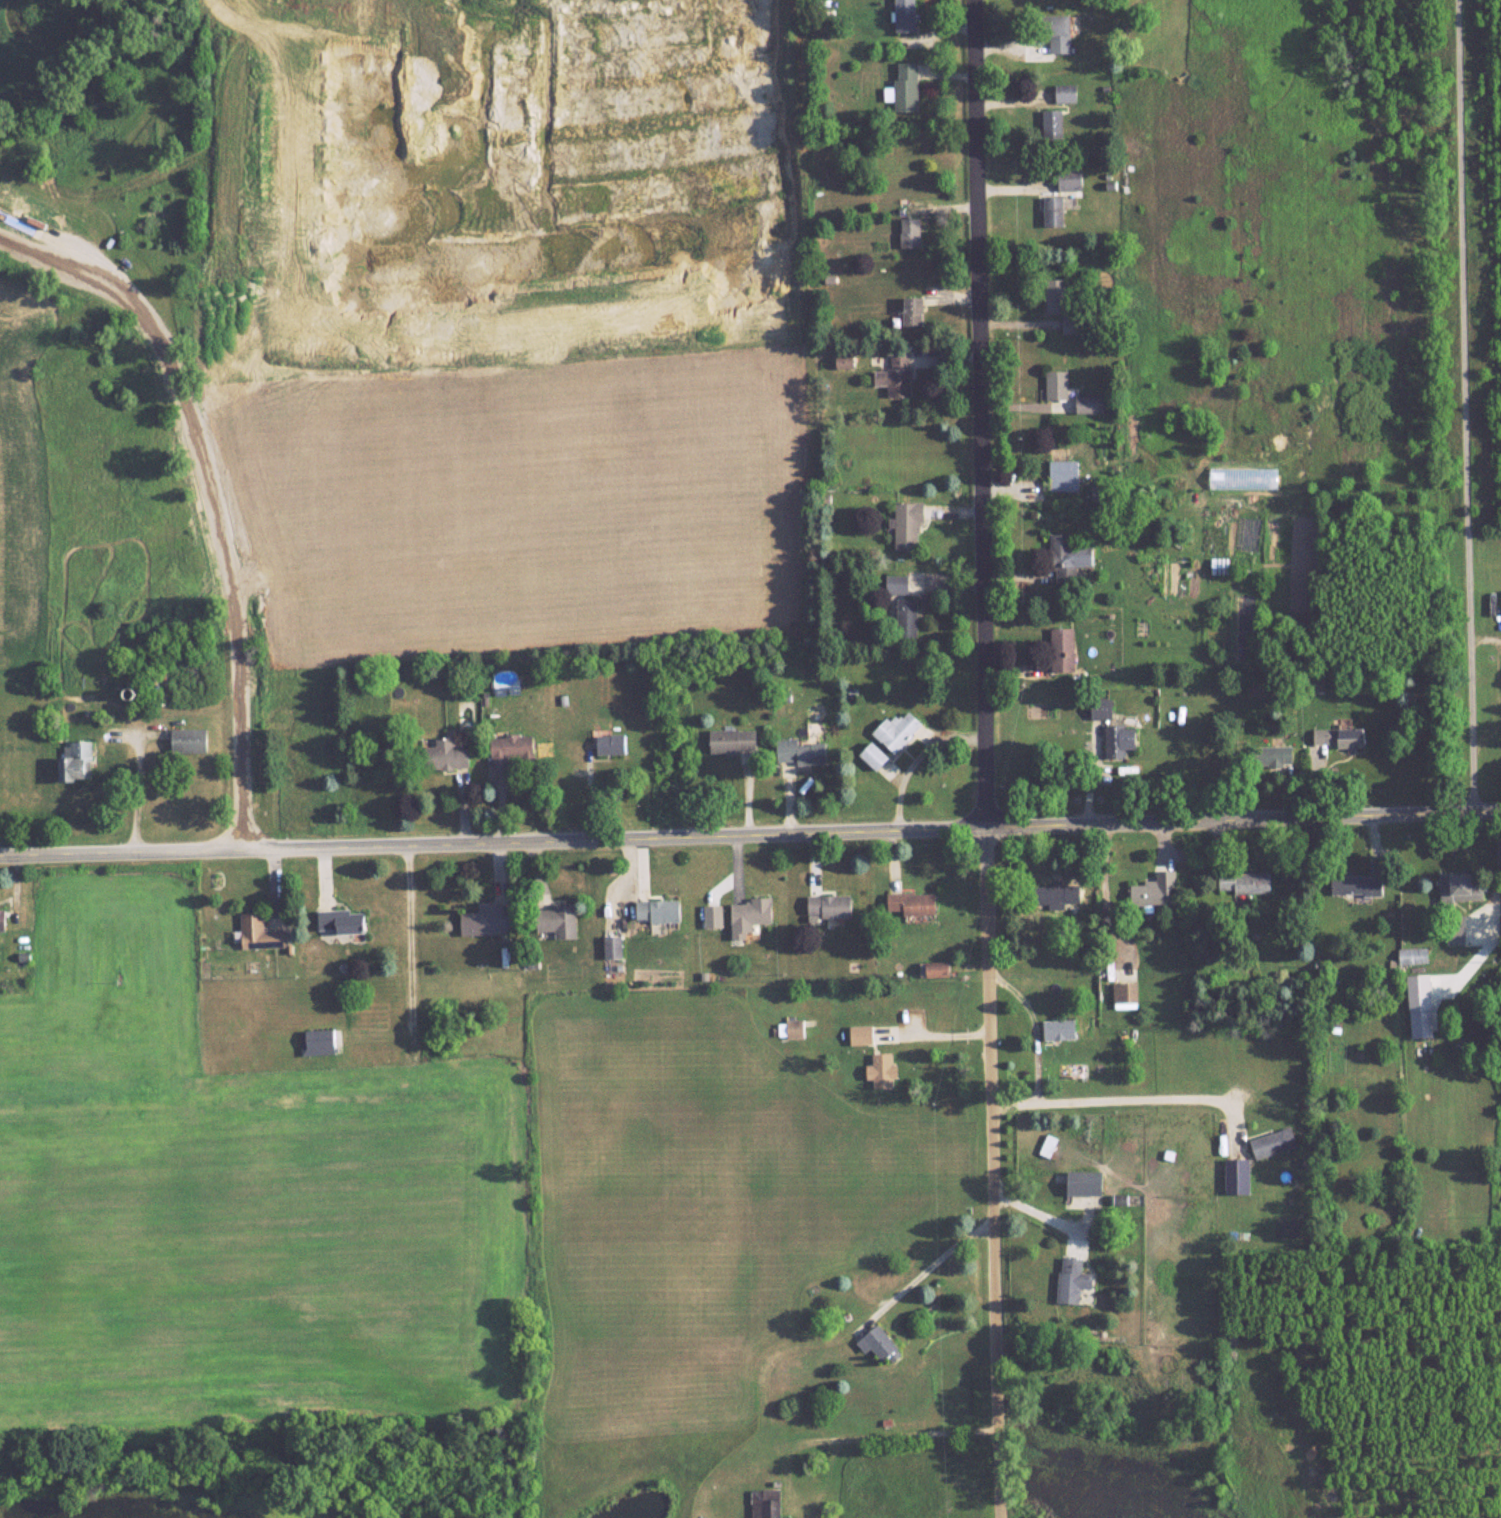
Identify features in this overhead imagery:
building: (907, 16)
building: (1059, 33)
building: (906, 88)
building: (1066, 92)
building: (1053, 124)
quarry: (352, 126)
building: (1070, 178)
building: (1054, 211)
building: (33, 223)
building: (911, 233)
road: (65, 247)
road: (60, 266)
building: (1062, 306)
building: (915, 313)
building: (896, 377)
building: (1057, 385)
building: (1091, 404)
road: (1463, 406)
road: (983, 415)
building: (1064, 476)
building: (1102, 492)
building: (910, 526)
road: (228, 558)
building: (1069, 559)
building: (1220, 566)
building: (898, 584)
building: (908, 618)
building: (1063, 649)
building: (1105, 710)
building: (898, 730)
building: (1343, 738)
road: (151, 739)
building: (191, 740)
building: (1122, 740)
building: (734, 741)
building: (611, 744)
building: (513, 749)
building: (801, 752)
building: (445, 755)
building: (877, 756)
building: (1280, 756)
building: (77, 761)
road: (917, 762)
road: (144, 784)
road: (750, 837)
building: (1244, 883)
building: (1359, 885)
building: (1465, 886)
building: (1154, 895)
building: (1053, 896)
building: (914, 904)
building: (831, 906)
building: (658, 911)
building: (751, 915)
building: (2, 919)
building: (560, 920)
building: (341, 921)
building: (488, 921)
building: (260, 932)
building: (613, 947)
building: (1415, 955)
road: (1491, 962)
building: (1123, 974)
building: (1127, 992)
road: (1035, 1027)
building: (793, 1029)
building: (1060, 1029)
road: (936, 1033)
building: (863, 1035)
building: (319, 1041)
building: (884, 1071)
road: (1123, 1097)
road: (991, 1105)
building: (1275, 1143)
building: (1050, 1146)
building: (1087, 1183)
road: (928, 1266)
building: (1075, 1281)
building: (878, 1342)
road: (995, 1449)
building: (767, 1503)

